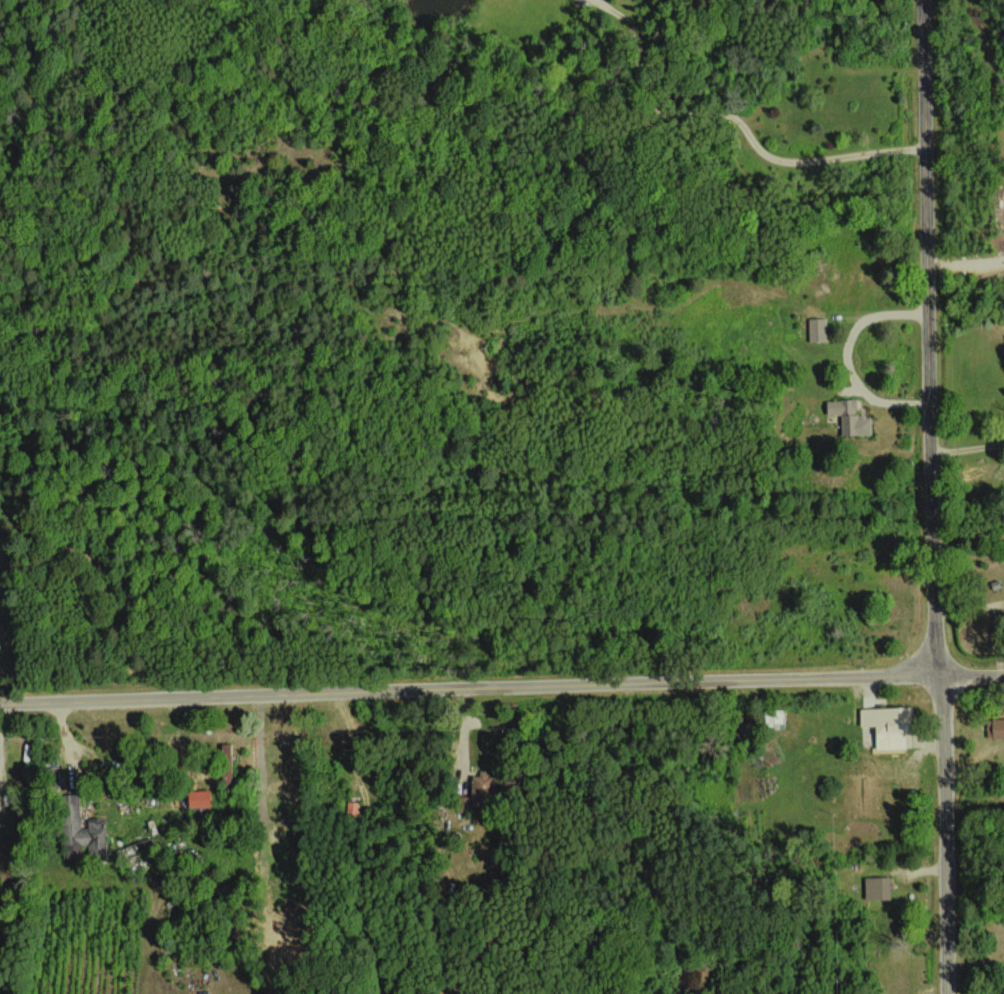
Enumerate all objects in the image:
road: (737, 116)
building: (816, 330)
road: (845, 357)
building: (848, 416)
road: (968, 448)
road: (932, 497)
road: (501, 689)
building: (773, 718)
building: (886, 725)
building: (994, 727)
building: (224, 764)
building: (52, 770)
building: (482, 782)
building: (197, 797)
road: (145, 798)
building: (353, 808)
building: (79, 831)
building: (877, 887)

